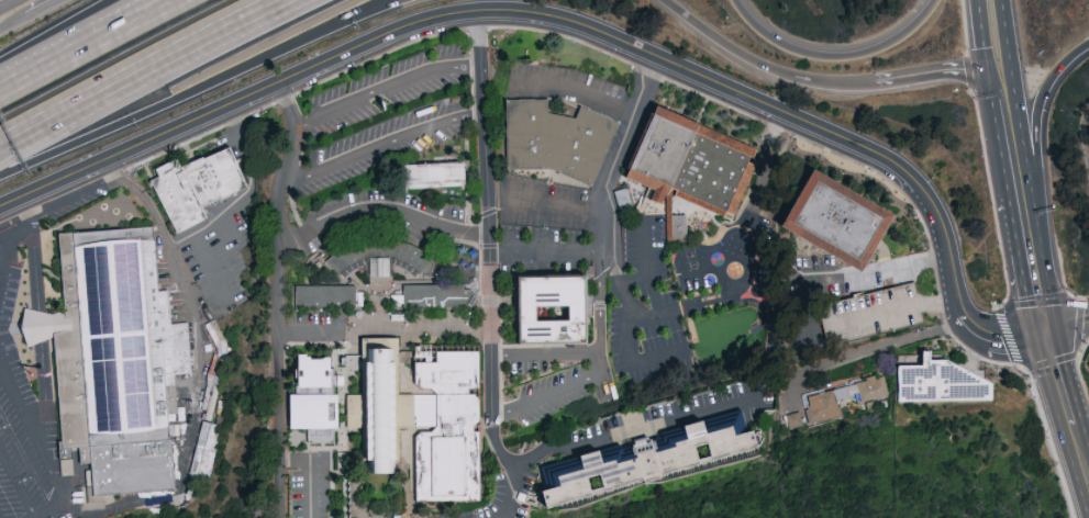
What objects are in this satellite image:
road: (5, 2)
road: (33, 5)
road: (11, 19)
road: (333, 20)
road: (345, 20)
road: (568, 25)
road: (69, 40)
road: (91, 40)
road: (981, 44)
road: (833, 55)
road: (762, 64)
road: (135, 69)
road: (934, 69)
road: (8, 82)
traffic signals: (988, 88)
road: (569, 89)
road: (385, 90)
road: (1013, 97)
road: (1036, 106)
road: (147, 109)
road: (998, 142)
road: (382, 143)
building: (560, 143)
road: (766, 167)
building: (696, 169)
building: (430, 173)
building: (201, 189)
road: (242, 192)
building: (620, 198)
road: (544, 203)
road: (381, 209)
building: (838, 224)
road: (232, 235)
road: (165, 237)
road: (545, 251)
building: (409, 255)
road: (1044, 263)
building: (376, 267)
road: (1020, 267)
road: (214, 269)
road: (600, 269)
road: (865, 270)
road: (649, 273)
building: (323, 294)
building: (431, 295)
road: (277, 299)
road: (891, 308)
building: (560, 313)
road: (38, 315)
road: (656, 315)
road: (1074, 327)
road: (384, 330)
traffic signals: (1058, 333)
road: (1047, 335)
traffic signals: (1036, 337)
road: (633, 349)
road: (864, 351)
road: (545, 353)
building: (114, 358)
road: (491, 367)
building: (302, 371)
road: (1070, 378)
building: (938, 381)
building: (307, 391)
building: (820, 399)
building: (404, 406)
building: (370, 407)
building: (309, 416)
building: (792, 419)
building: (448, 423)
road: (1062, 427)
road: (1087, 430)
road: (35, 433)
building: (645, 460)
road: (310, 474)
road: (19, 482)
road: (515, 493)
road: (55, 513)

